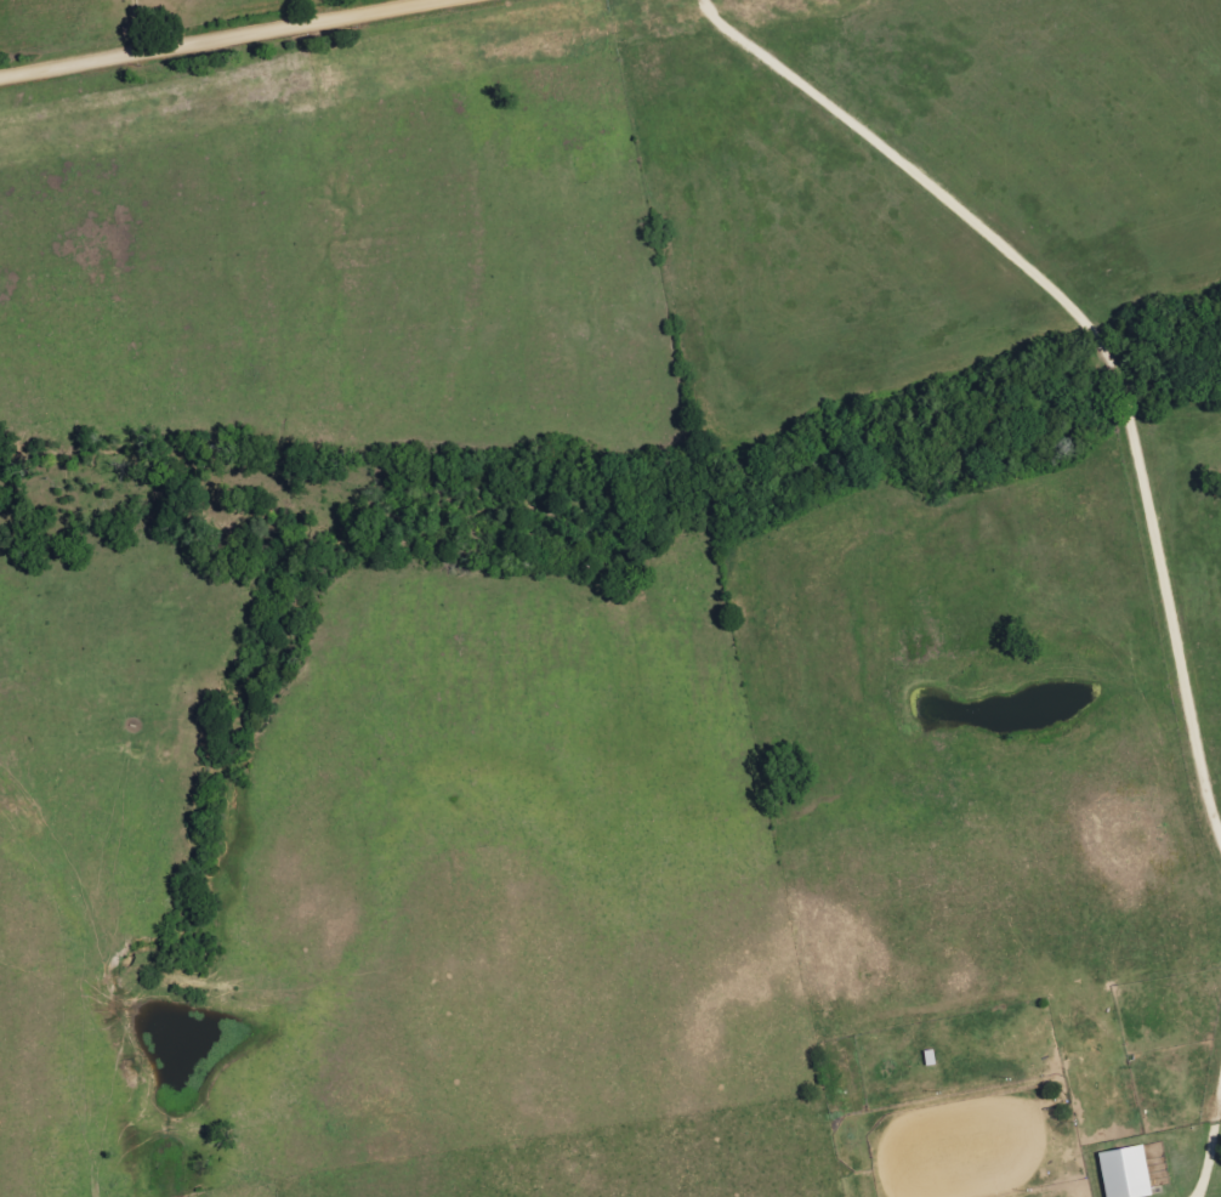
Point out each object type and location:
road: (131, 28)
road: (221, 39)
road: (1096, 334)
road: (1213, 1150)
building: (1124, 1172)

